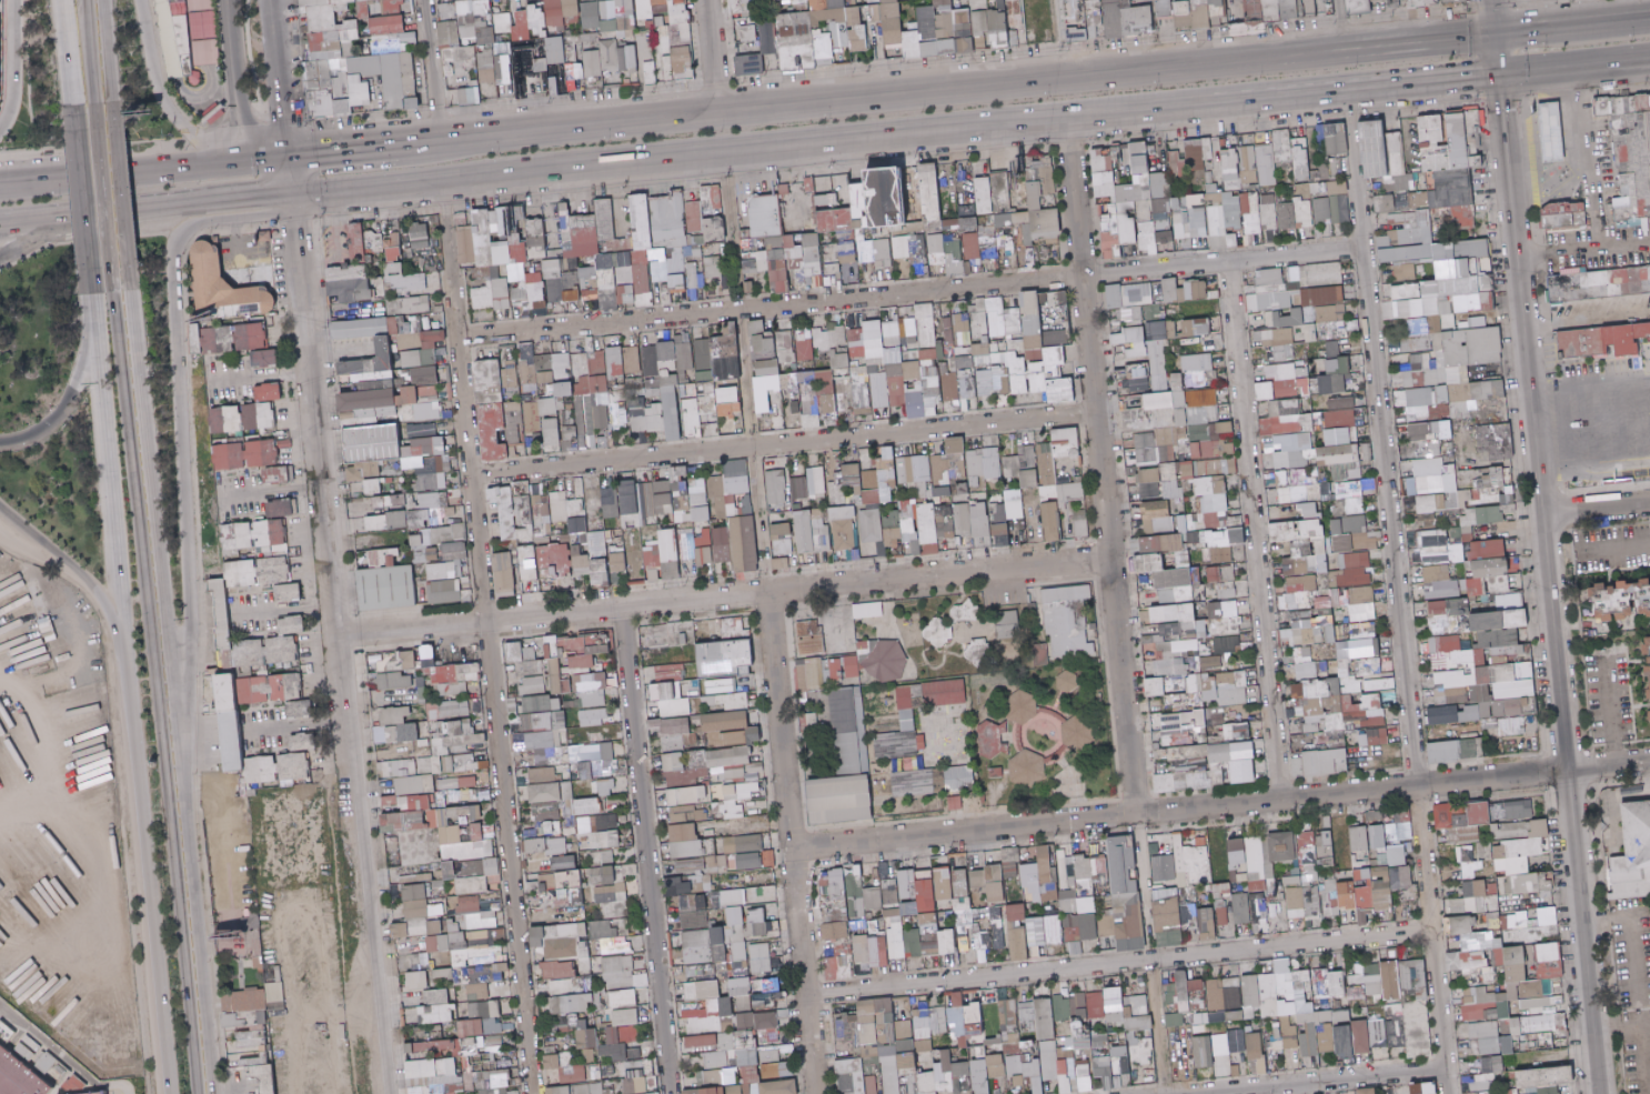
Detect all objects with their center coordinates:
road: (1493, 14)
road: (1340, 22)
road: (90, 51)
road: (252, 78)
road: (225, 80)
road: (275, 97)
road: (241, 99)
gas station: (1537, 113)
traffic signals: (282, 154)
traffic signals: (288, 194)
parking lot: (129, 1093)

